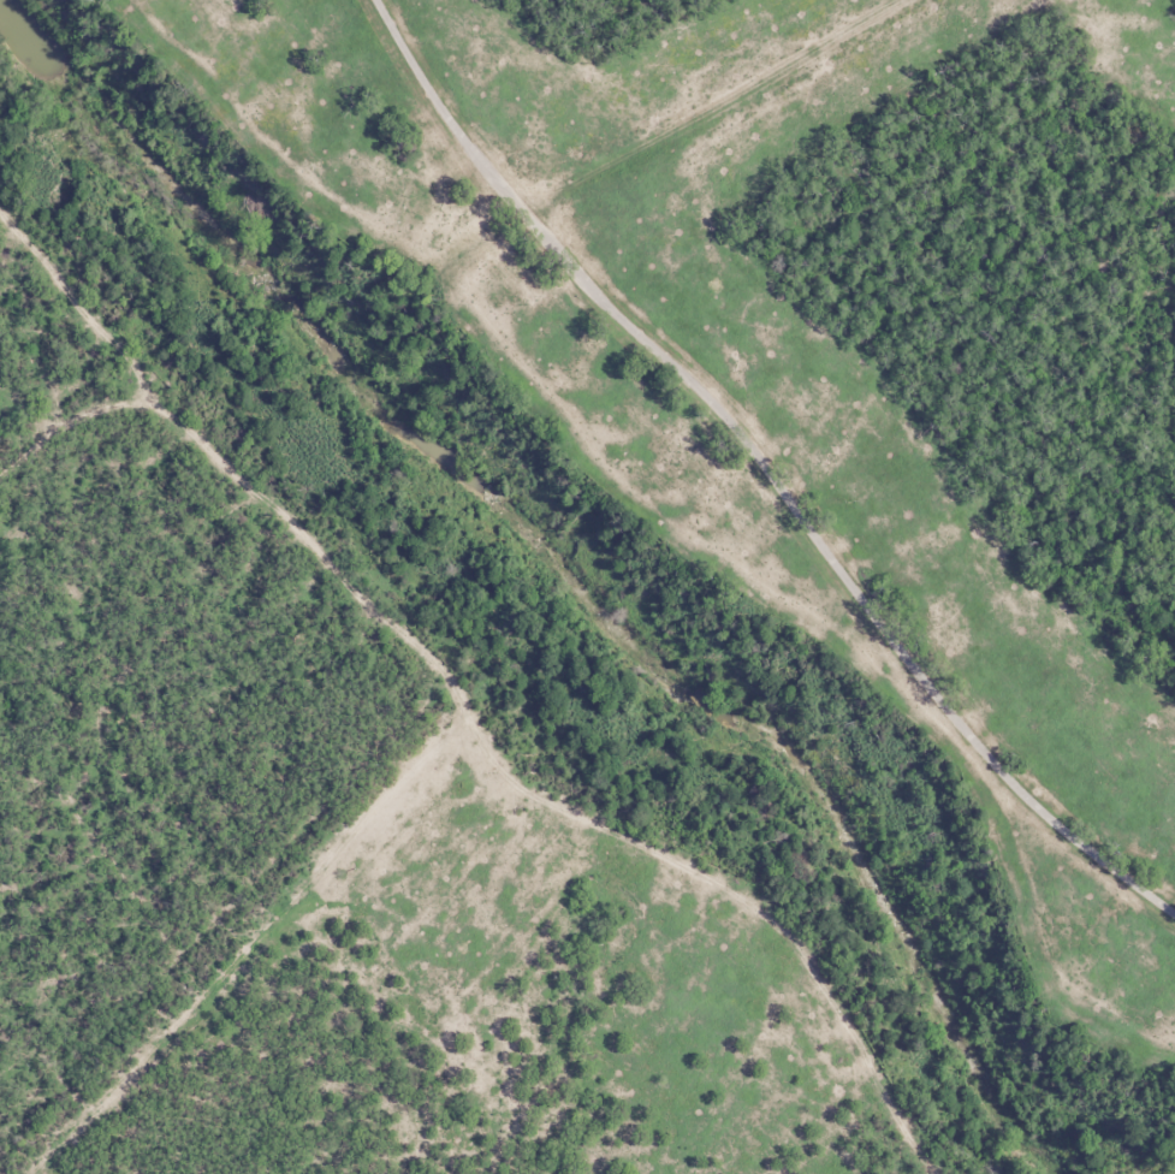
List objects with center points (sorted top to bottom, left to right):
road: (737, 488)
river: (563, 570)
road: (488, 755)

